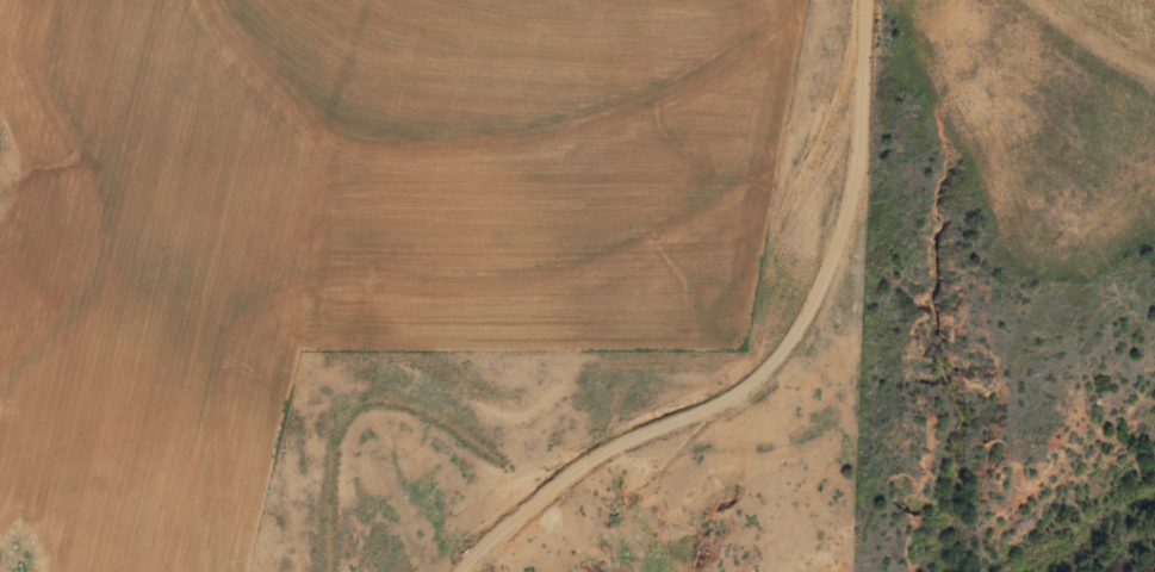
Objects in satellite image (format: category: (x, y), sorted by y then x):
road: (770, 361)

